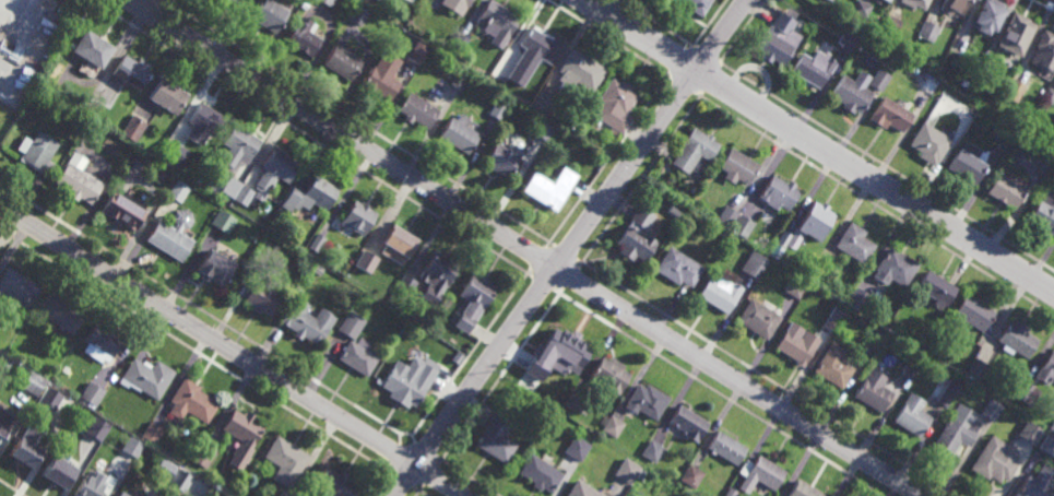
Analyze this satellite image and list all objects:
building: (245, 0)
building: (828, 0)
building: (224, 1)
building: (237, 1)
building: (884, 1)
building: (328, 2)
building: (384, 2)
building: (455, 2)
building: (913, 3)
building: (305, 4)
road: (1043, 4)
road: (4, 5)
building: (695, 5)
building: (949, 7)
building: (858, 9)
building: (269, 12)
building: (358, 15)
building: (983, 15)
building: (497, 22)
road: (654, 23)
road: (709, 23)
building: (889, 24)
parking lot: (23, 31)
road: (743, 31)
building: (926, 31)
building: (1015, 33)
building: (303, 36)
road: (608, 37)
building: (775, 39)
building: (845, 40)
building: (459, 43)
building: (538, 45)
building: (92, 50)
building: (414, 52)
road: (707, 54)
building: (1043, 54)
building: (343, 60)
road: (679, 60)
building: (984, 64)
building: (813, 68)
building: (131, 69)
building: (579, 71)
building: (449, 73)
building: (381, 76)
building: (878, 78)
road: (710, 79)
building: (459, 80)
building: (963, 82)
building: (928, 83)
road: (683, 85)
building: (1014, 90)
building: (851, 92)
building: (168, 94)
building: (1049, 95)
building: (543, 101)
building: (614, 105)
building: (417, 108)
building: (497, 109)
building: (889, 113)
building: (203, 121)
road: (360, 123)
building: (133, 128)
building: (542, 130)
building: (459, 132)
road: (318, 141)
building: (928, 141)
building: (238, 144)
road: (819, 146)
building: (37, 150)
building: (694, 150)
building: (173, 151)
building: (501, 158)
road: (606, 161)
building: (966, 164)
building: (737, 166)
road: (888, 166)
building: (275, 168)
building: (76, 181)
road: (639, 181)
building: (229, 187)
building: (552, 188)
building: (177, 189)
building: (1005, 189)
building: (779, 192)
building: (242, 194)
building: (309, 194)
road: (877, 206)
building: (121, 210)
building: (246, 210)
building: (672, 211)
building: (727, 215)
building: (358, 216)
building: (1043, 216)
building: (815, 220)
building: (222, 221)
building: (742, 225)
building: (171, 235)
building: (636, 235)
building: (783, 239)
building: (316, 243)
building: (854, 243)
building: (398, 244)
road: (569, 247)
road: (526, 248)
road: (567, 252)
road: (537, 259)
building: (366, 261)
building: (754, 263)
building: (214, 267)
building: (678, 267)
building: (893, 267)
building: (436, 274)
building: (818, 274)
road: (570, 277)
road: (543, 283)
building: (405, 284)
building: (17, 287)
building: (794, 287)
building: (934, 287)
building: (720, 293)
building: (262, 297)
building: (858, 298)
building: (473, 300)
road: (203, 311)
building: (60, 312)
building: (973, 312)
building: (758, 318)
building: (833, 318)
building: (304, 322)
building: (351, 323)
building: (879, 334)
building: (1016, 339)
building: (100, 342)
building: (797, 345)
building: (931, 349)
road: (196, 350)
road: (230, 351)
building: (554, 353)
building: (357, 355)
road: (466, 357)
building: (4, 363)
building: (833, 365)
building: (976, 368)
building: (1046, 368)
building: (905, 373)
building: (609, 374)
building: (146, 377)
road: (768, 377)
road: (501, 378)
building: (408, 381)
building: (34, 382)
building: (874, 390)
building: (943, 391)
building: (92, 393)
road: (718, 393)
building: (1027, 393)
building: (575, 400)
building: (191, 401)
building: (646, 401)
building: (990, 410)
building: (911, 415)
building: (3, 422)
building: (688, 423)
building: (1052, 425)
building: (100, 426)
building: (612, 426)
building: (152, 433)
building: (1030, 433)
building: (952, 435)
building: (241, 436)
building: (496, 437)
building: (1047, 445)
building: (132, 447)
building: (576, 448)
building: (725, 448)
road: (426, 450)
building: (651, 451)
building: (25, 452)
building: (202, 454)
road: (395, 454)
building: (995, 460)
building: (285, 461)
building: (163, 470)
building: (627, 471)
building: (57, 472)
building: (538, 474)
road: (431, 475)
building: (641, 475)
building: (690, 475)
building: (760, 475)
road: (471, 479)
road: (379, 481)
road: (401, 481)
building: (334, 483)
building: (1038, 483)
building: (91, 484)
road: (11, 488)
building: (199, 488)
building: (581, 489)
building: (803, 489)
road: (422, 491)
road: (8, 492)
road: (418, 492)
building: (730, 492)
building: (282, 494)
building: (322, 494)

